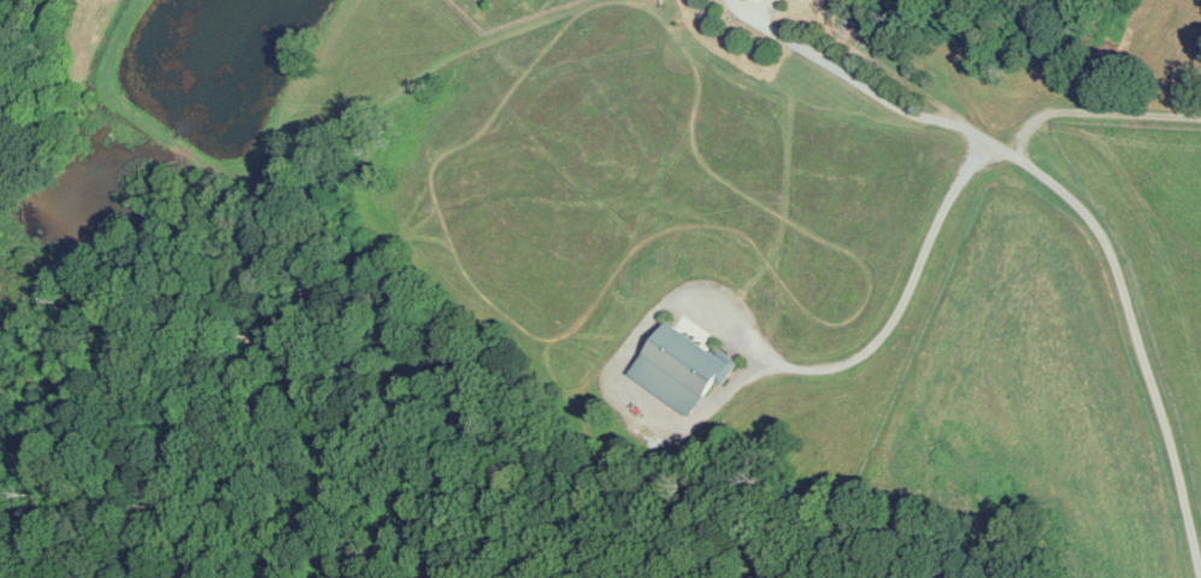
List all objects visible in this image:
road: (1093, 111)
road: (1073, 206)
road: (902, 299)
building: (684, 370)

